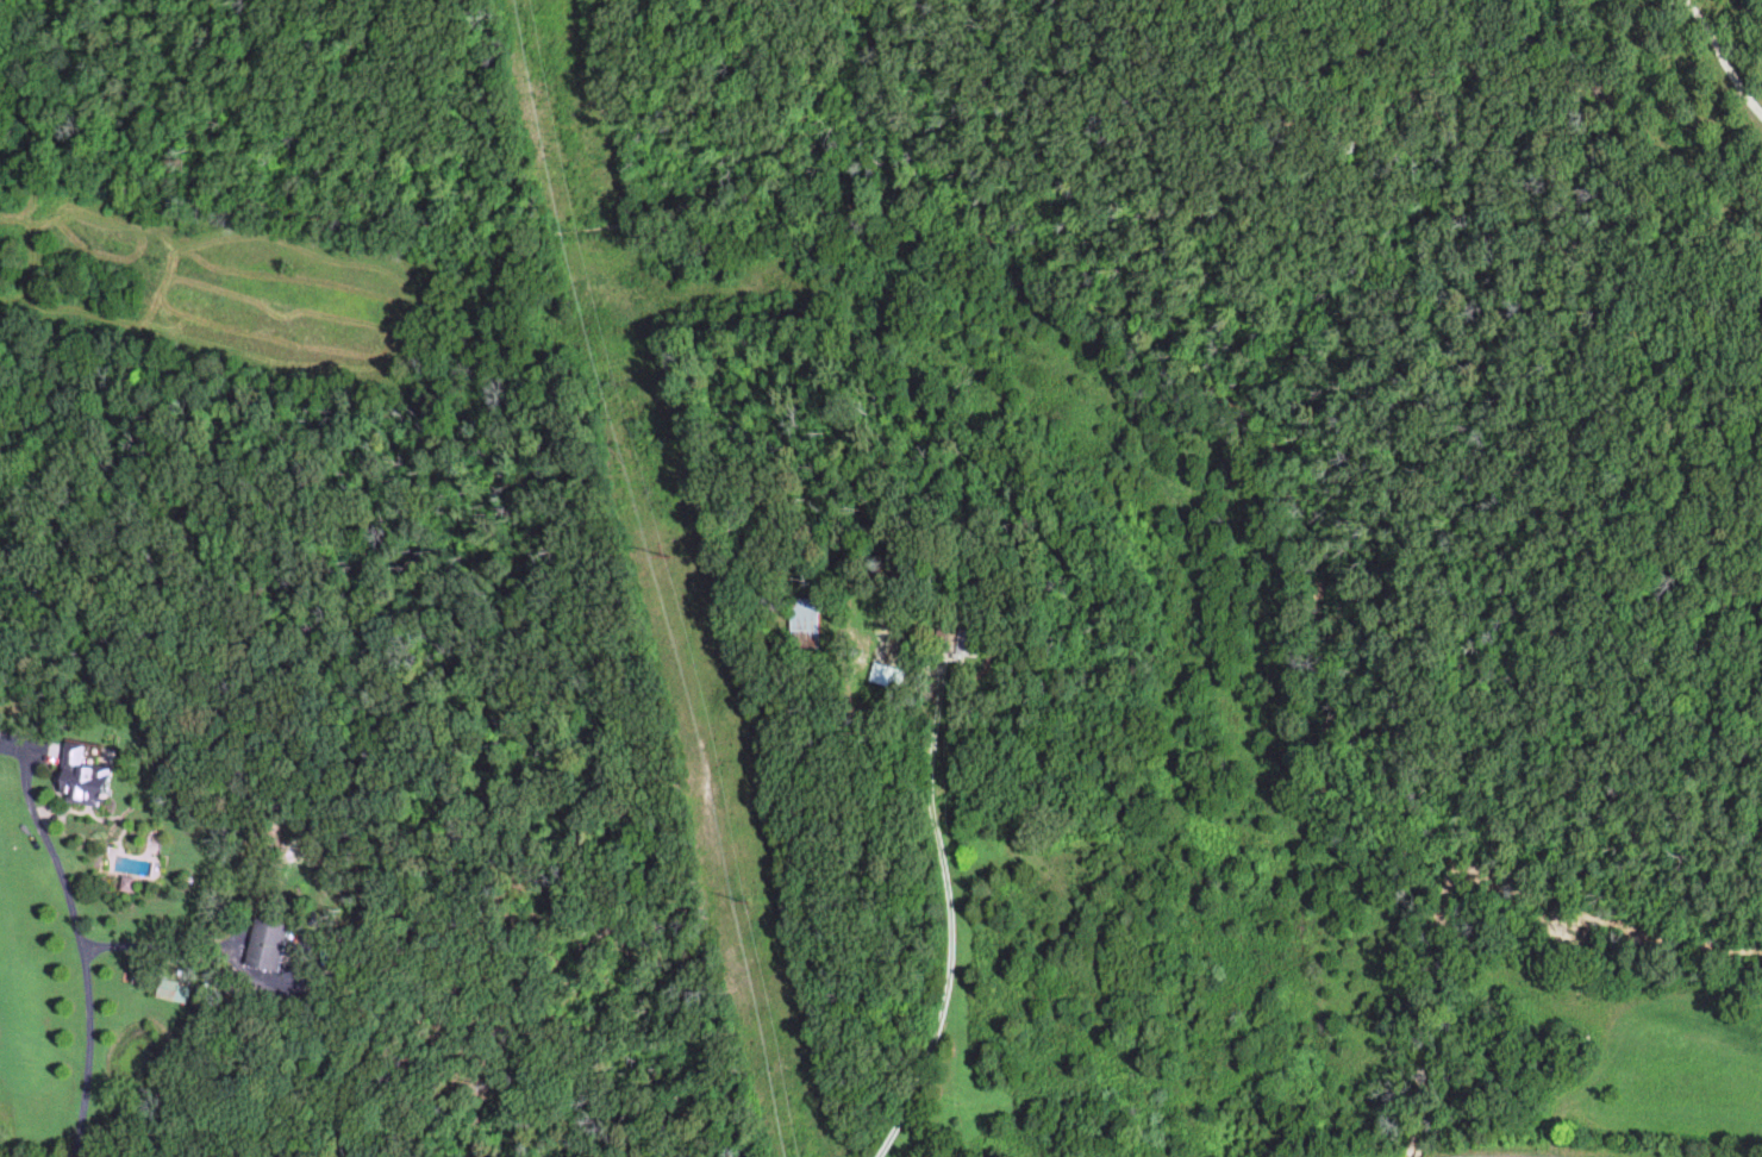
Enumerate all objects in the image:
road: (1720, 57)
building: (804, 621)
building: (970, 643)
building: (88, 781)
road: (939, 894)
road: (82, 940)
building: (270, 945)
building: (177, 992)

